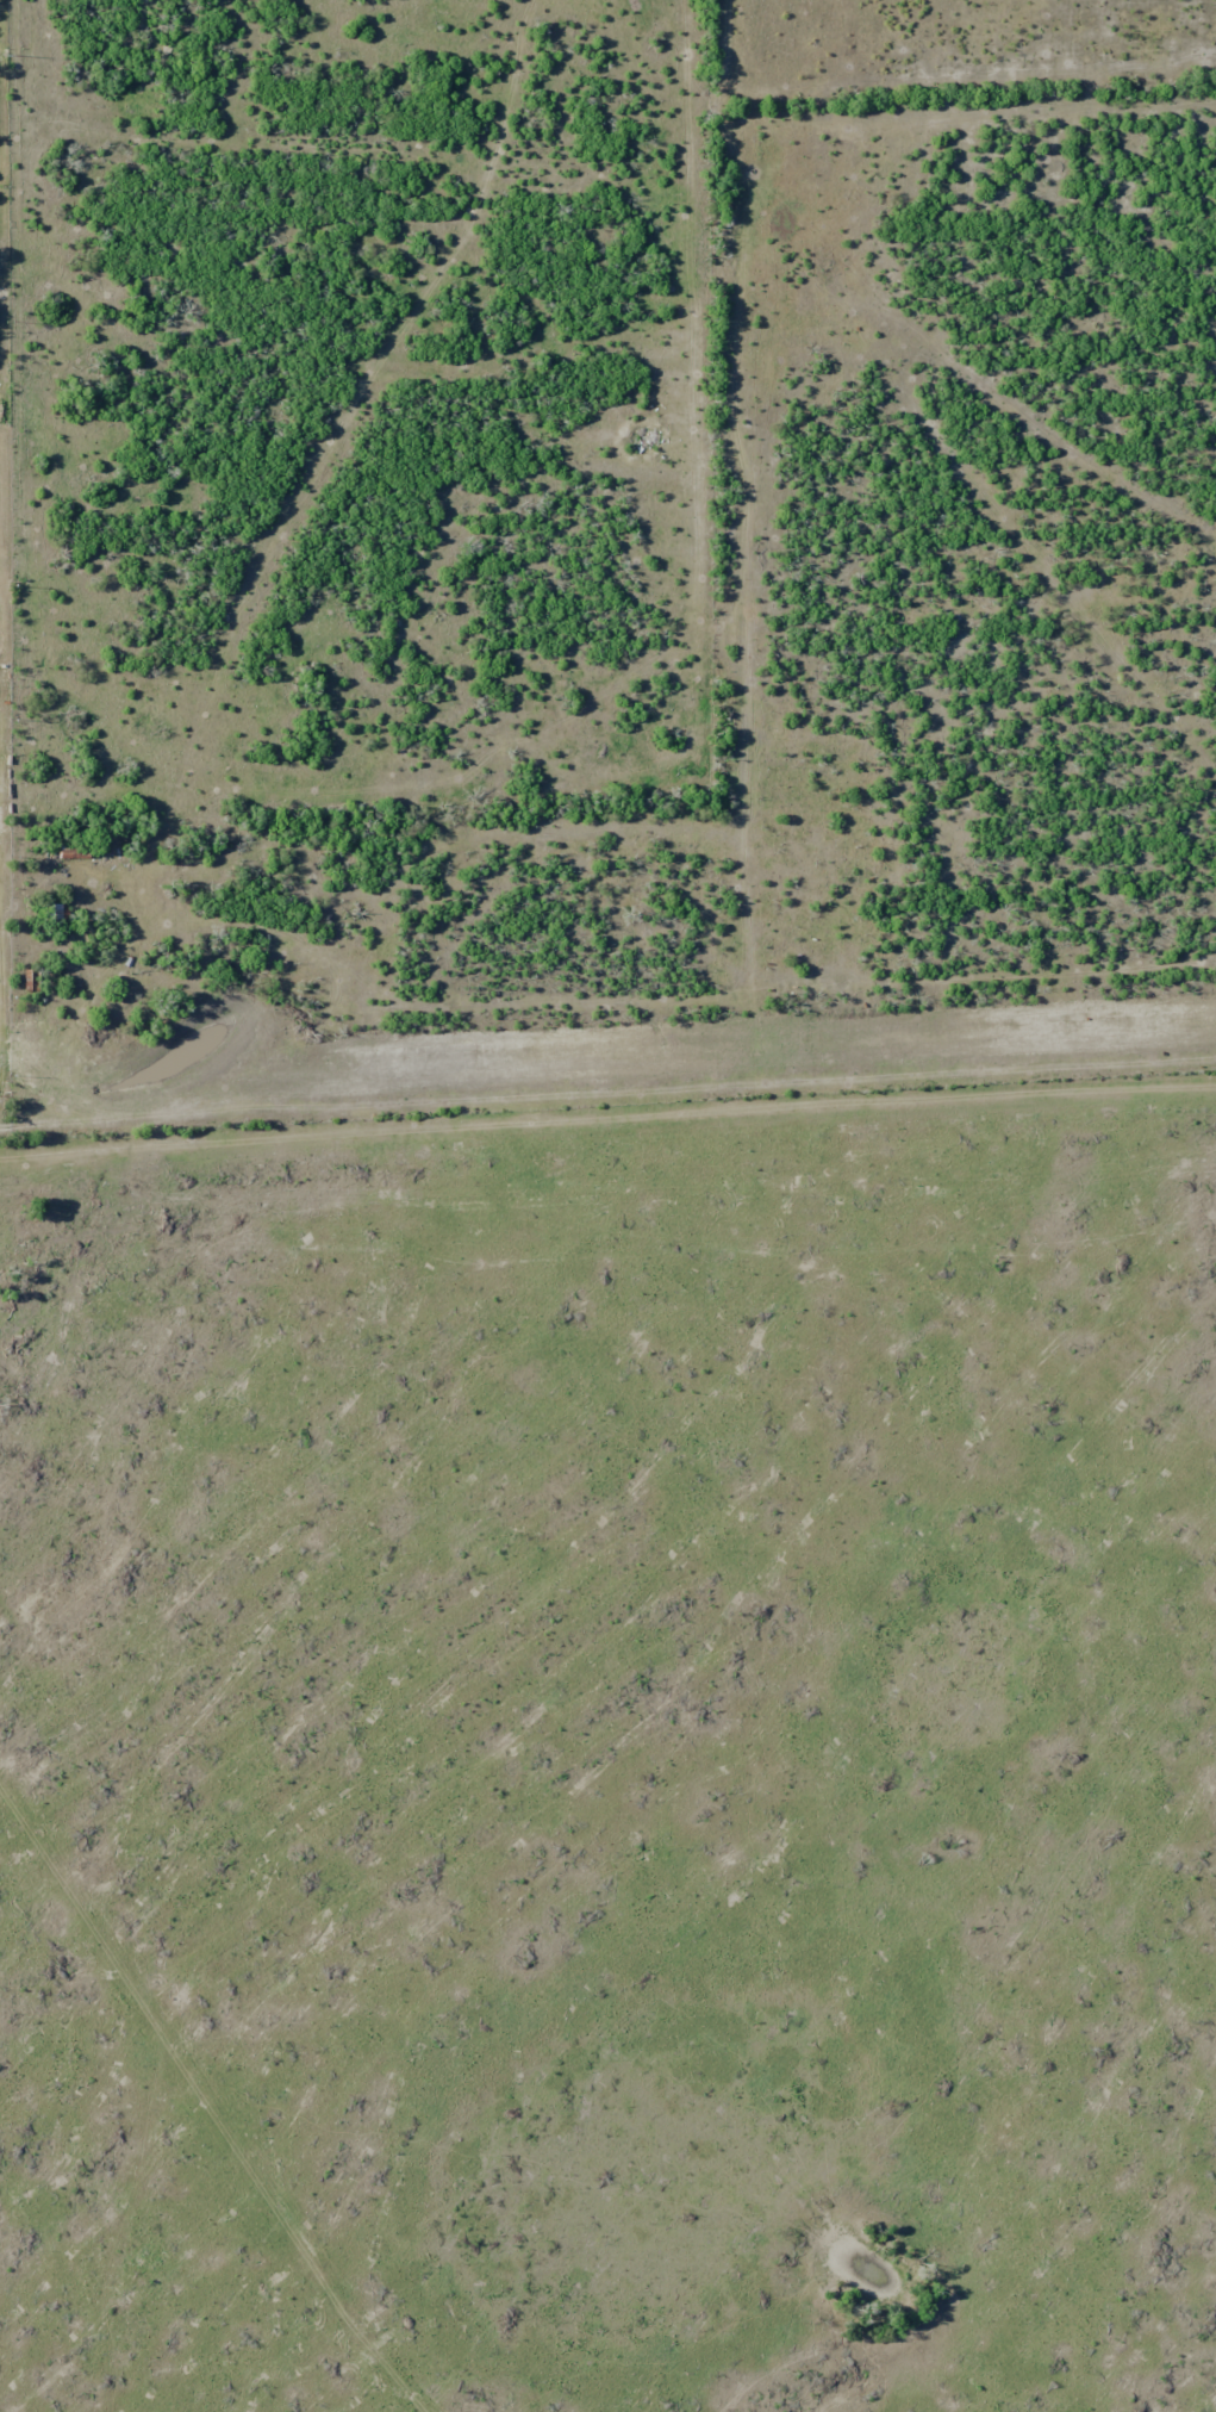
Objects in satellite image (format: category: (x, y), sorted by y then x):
building: (68, 848)
building: (55, 910)
road: (31, 1129)

